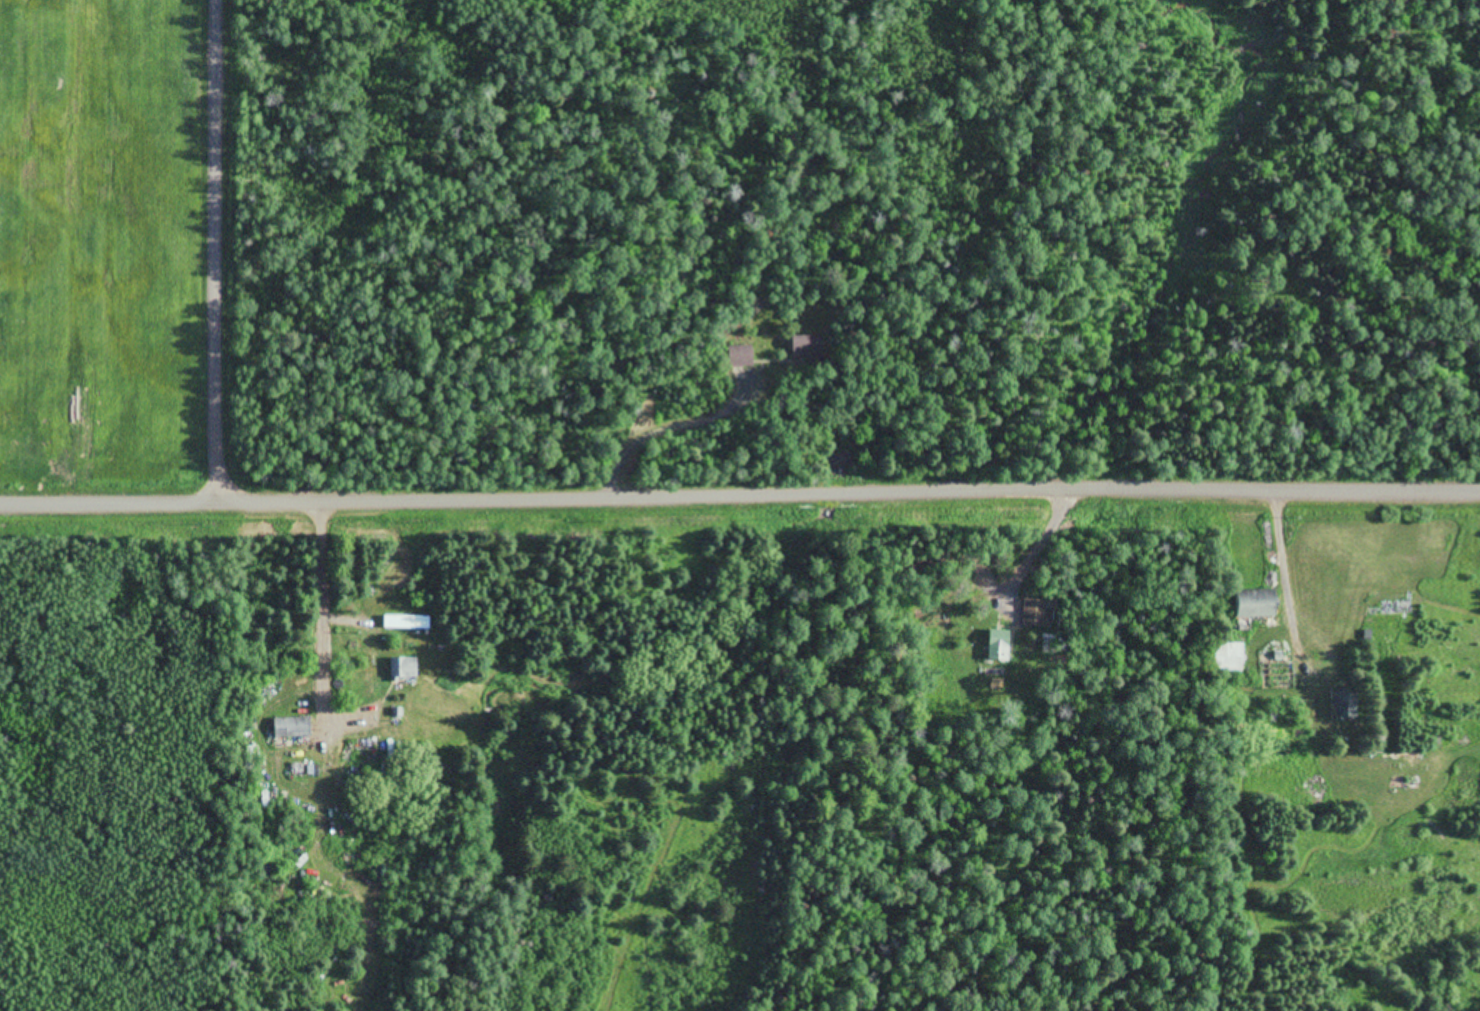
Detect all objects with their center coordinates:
crop: (104, 247)
road: (213, 253)
building: (807, 348)
building: (741, 357)
road: (740, 498)
building: (1262, 606)
building: (1036, 613)
building: (408, 623)
building: (1000, 645)
building: (1230, 658)
building: (406, 668)
building: (1347, 706)
building: (293, 728)

